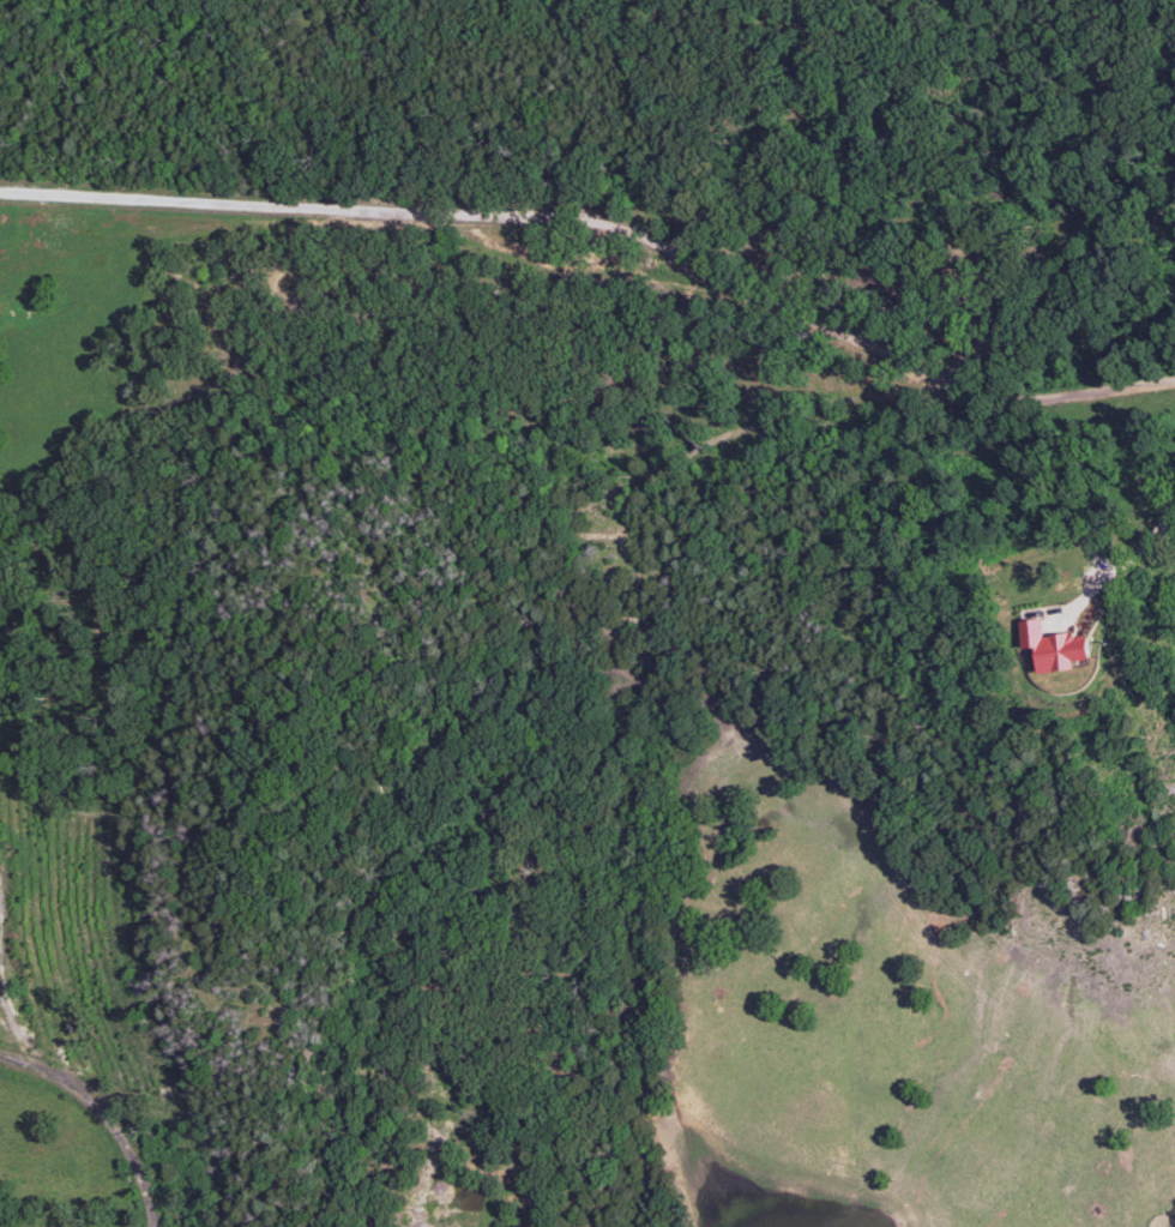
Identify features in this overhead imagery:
road: (607, 224)
road: (1132, 555)
building: (1055, 646)
road: (91, 1124)

